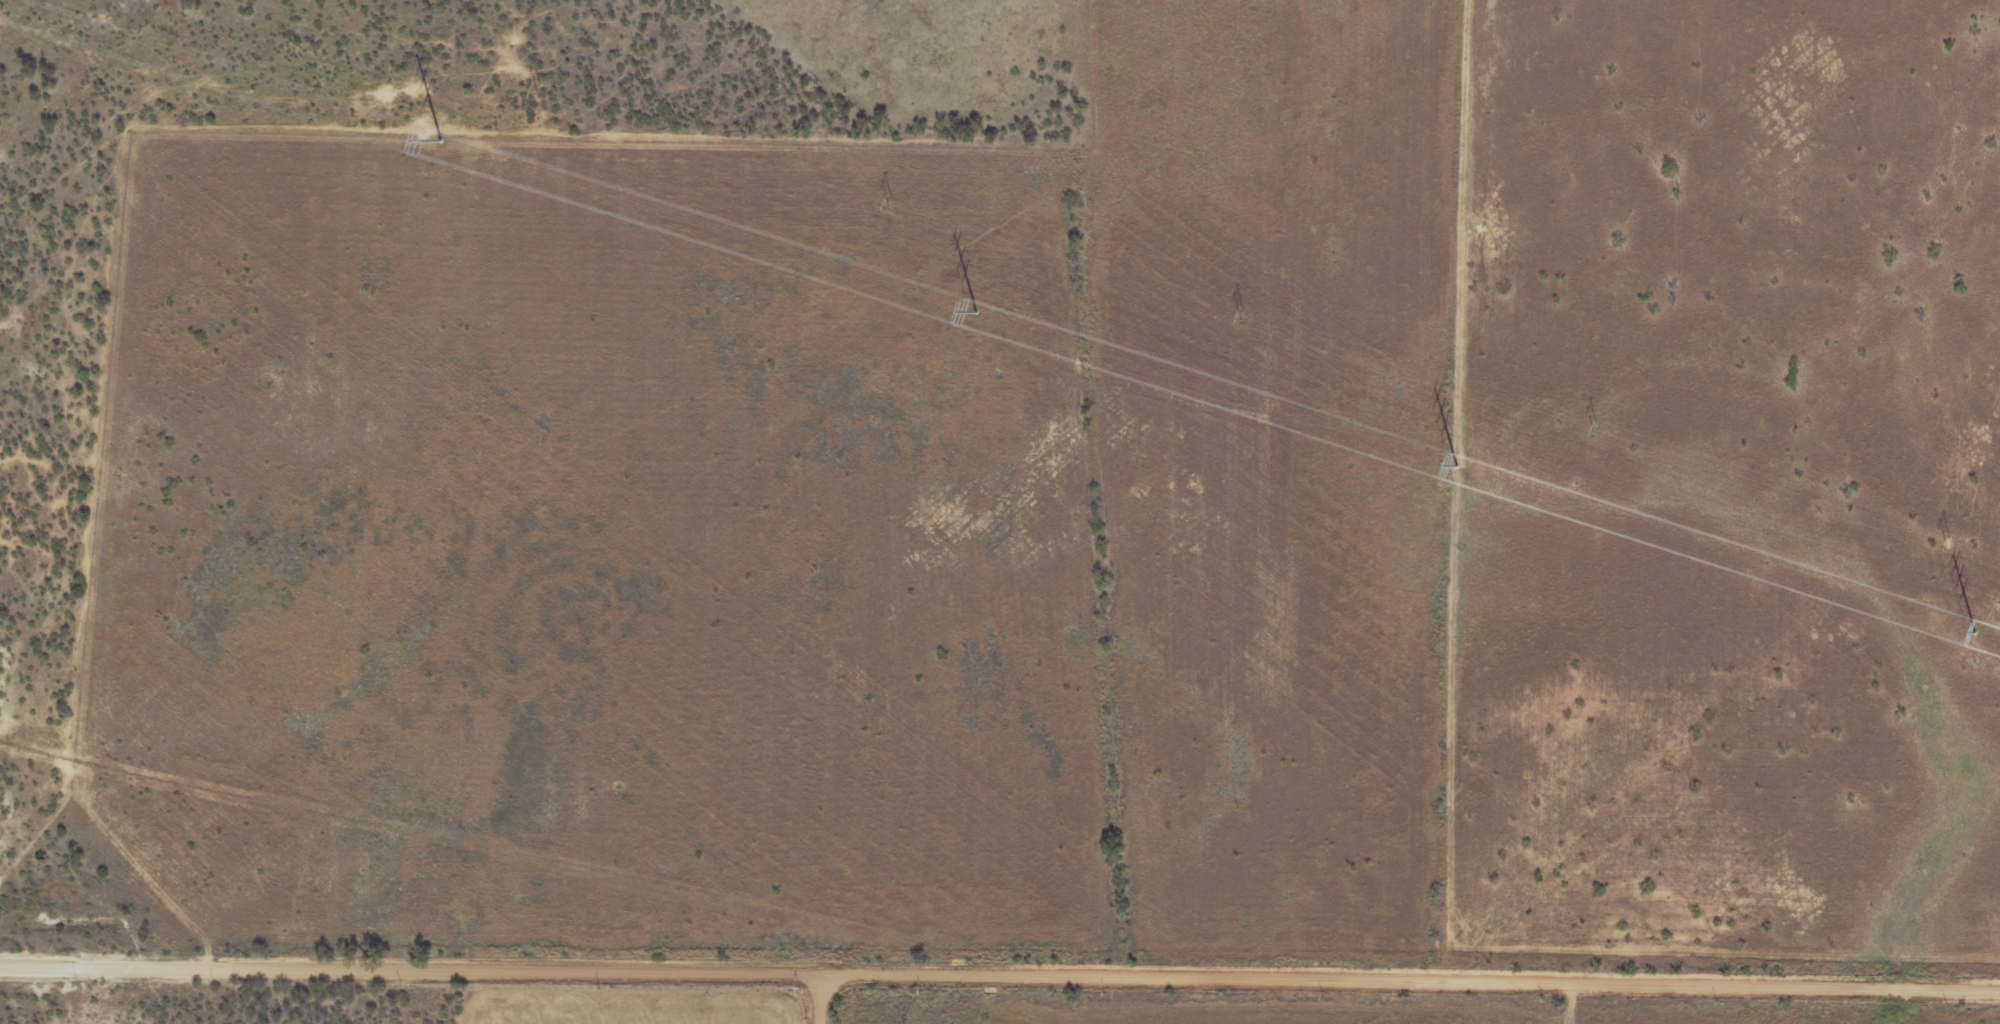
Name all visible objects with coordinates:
power tower: (536, 88)
power tower: (439, 139)
power tower: (887, 202)
power tower: (975, 311)
power tower: (1240, 314)
power tower: (1594, 428)
power tower: (1456, 464)
power tower: (1947, 542)
power tower: (1974, 631)
road: (1000, 973)
road: (821, 997)

